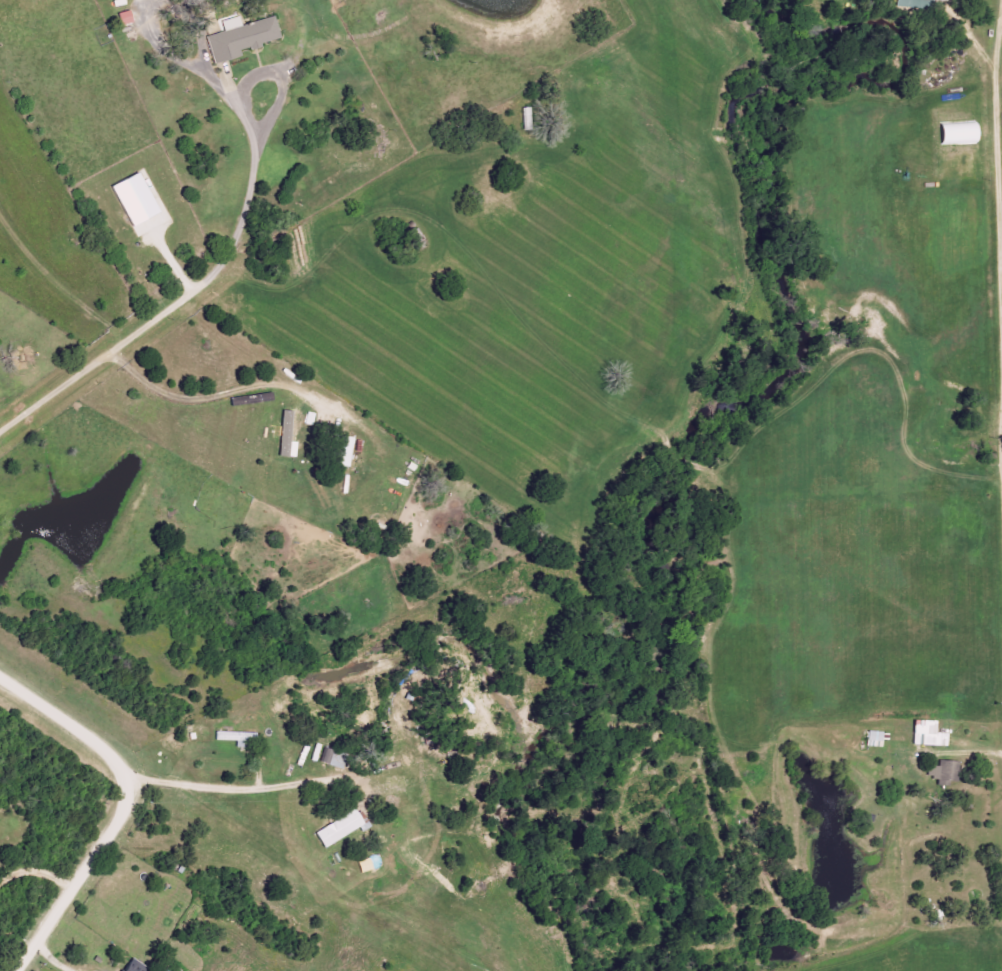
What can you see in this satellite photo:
building: (939, 0)
building: (241, 38)
building: (958, 133)
building: (134, 200)
road: (998, 204)
building: (285, 433)
building: (344, 451)
building: (924, 733)
building: (233, 738)
building: (945, 771)
road: (121, 810)
building: (339, 828)
building: (135, 966)

